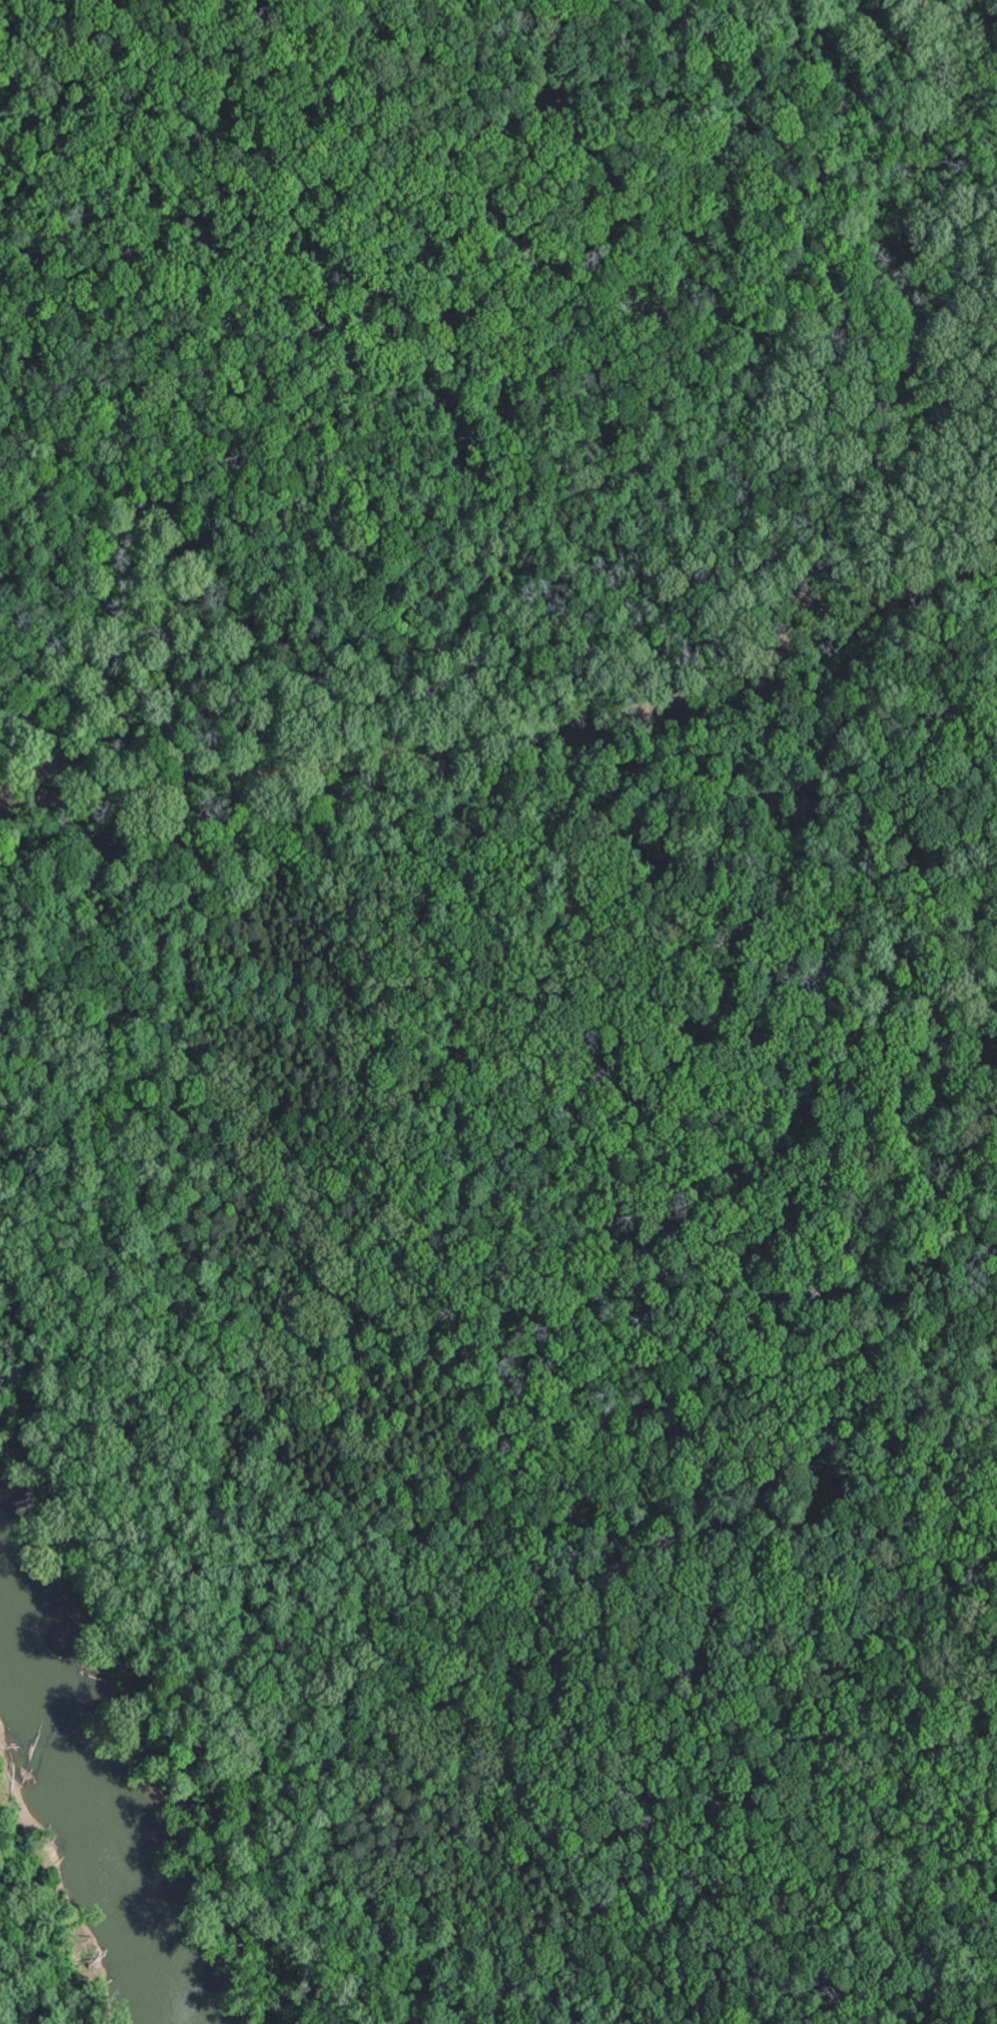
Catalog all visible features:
river: (100, 1823)

